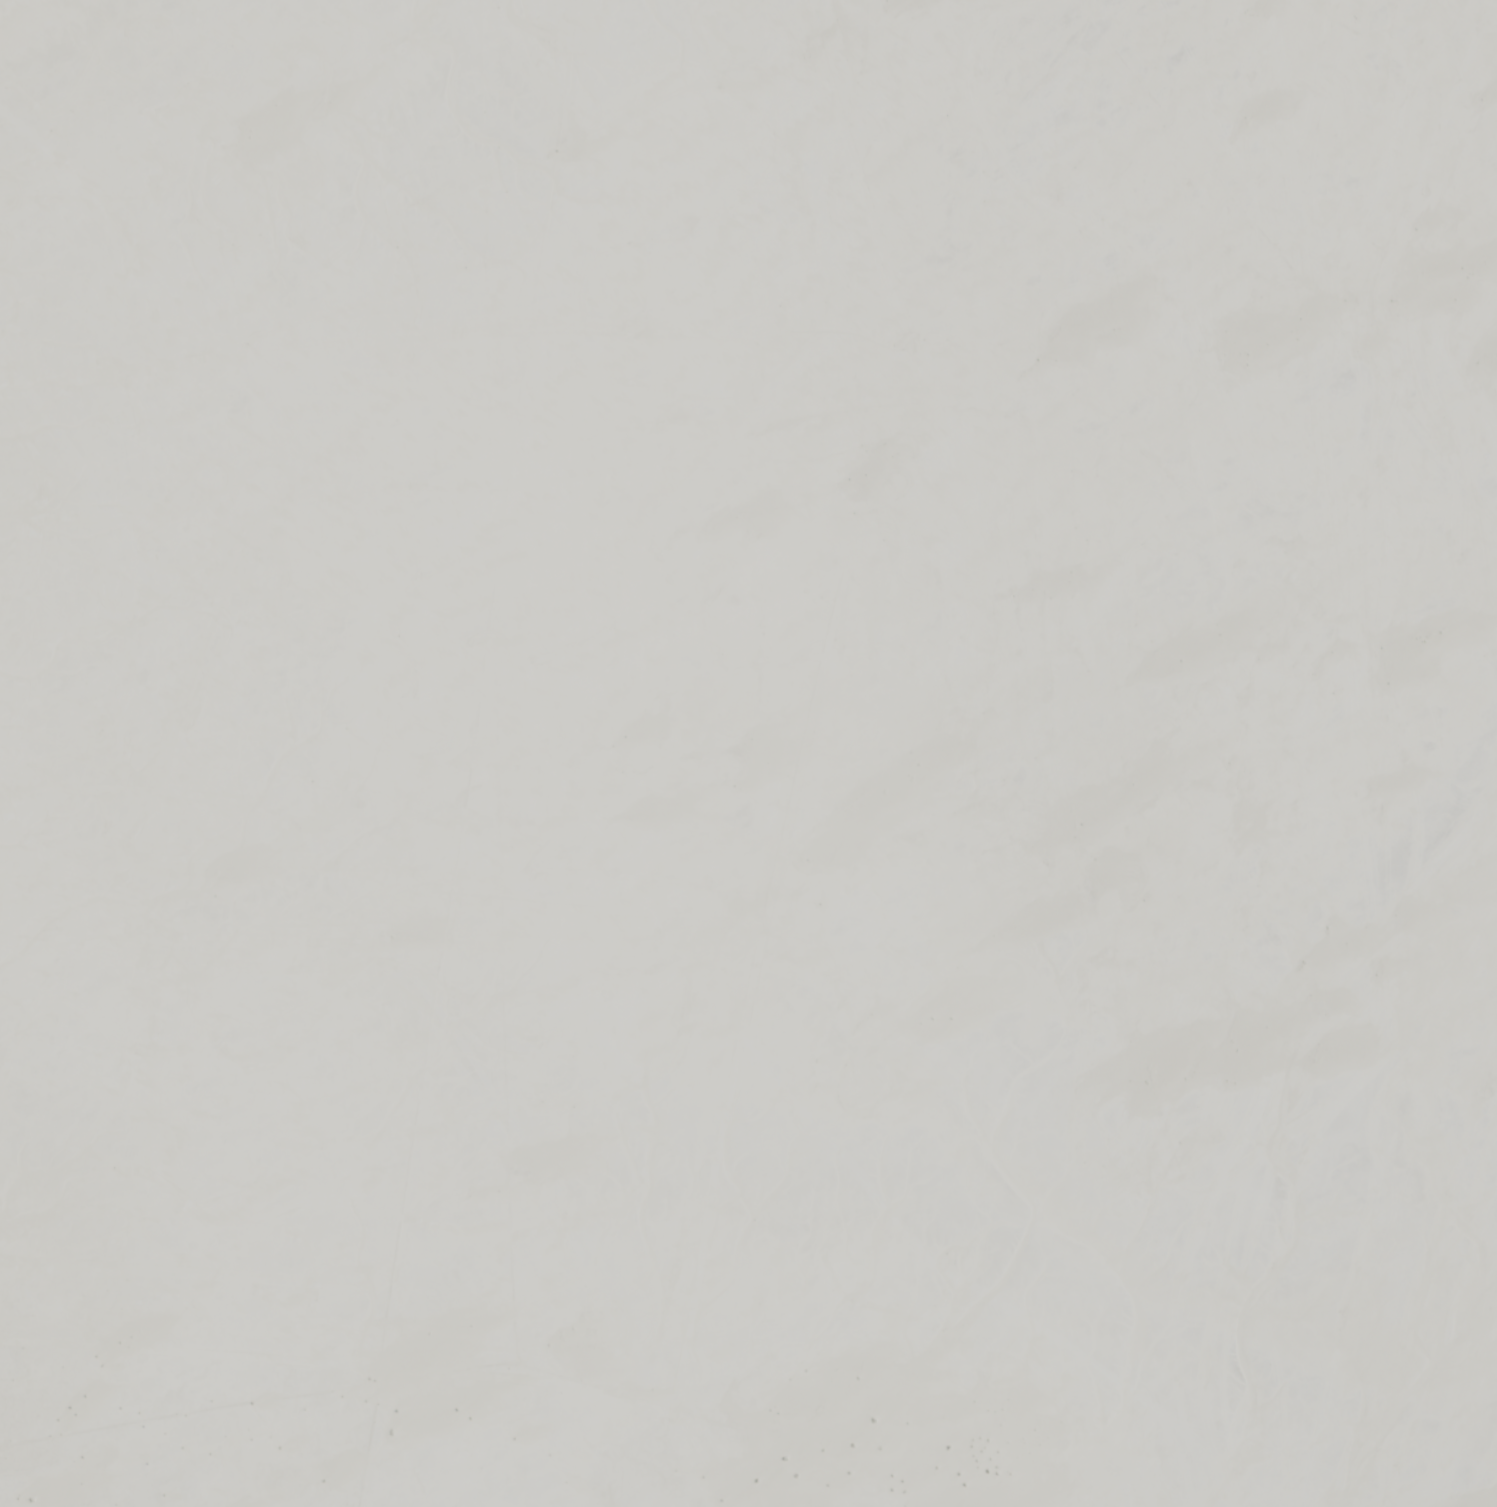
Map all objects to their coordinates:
building: (862, 1504)

